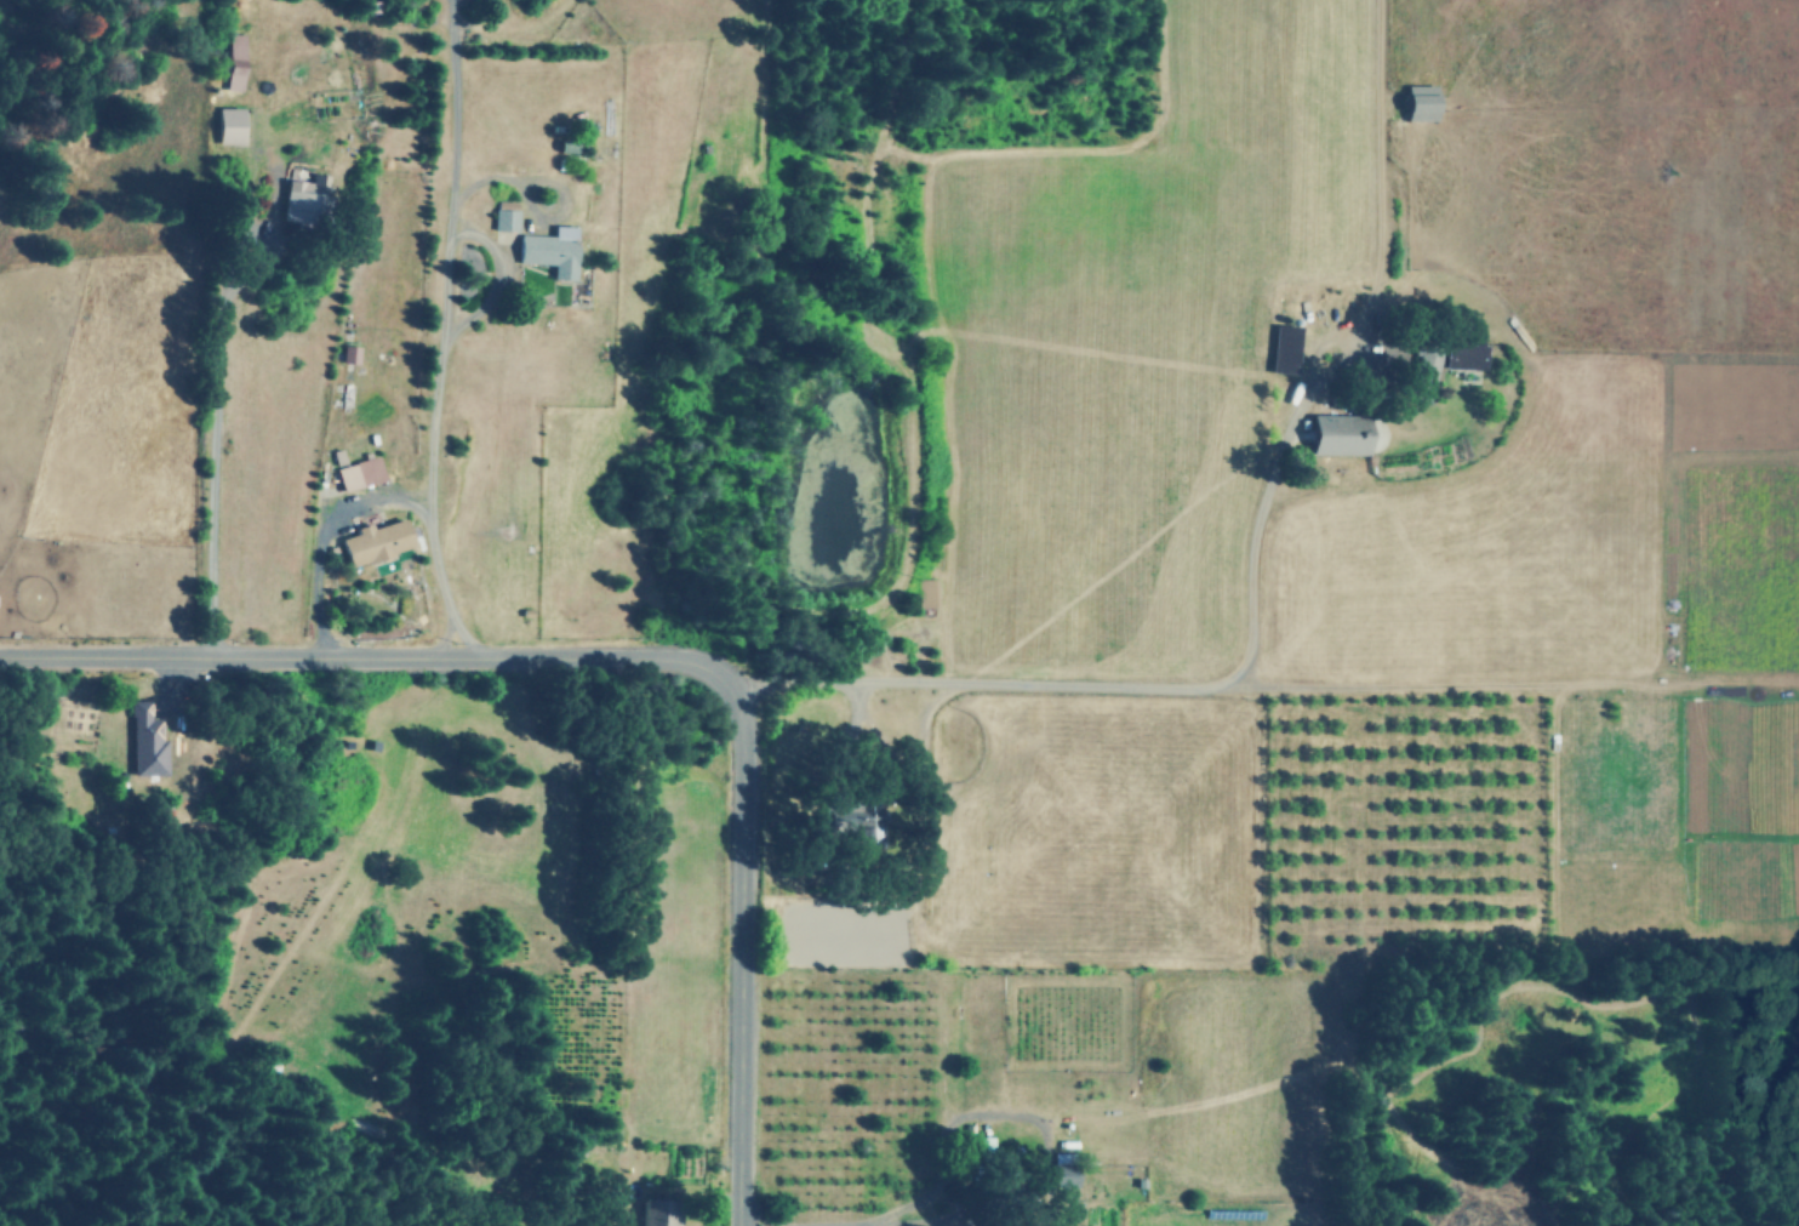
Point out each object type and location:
building: (233, 62)
building: (1420, 102)
building: (227, 125)
building: (296, 201)
building: (503, 215)
building: (548, 250)
building: (1283, 349)
building: (1462, 357)
building: (1424, 373)
building: (1338, 434)
road: (210, 458)
building: (358, 474)
building: (373, 542)
road: (661, 656)
building: (145, 740)
building: (1061, 1171)

